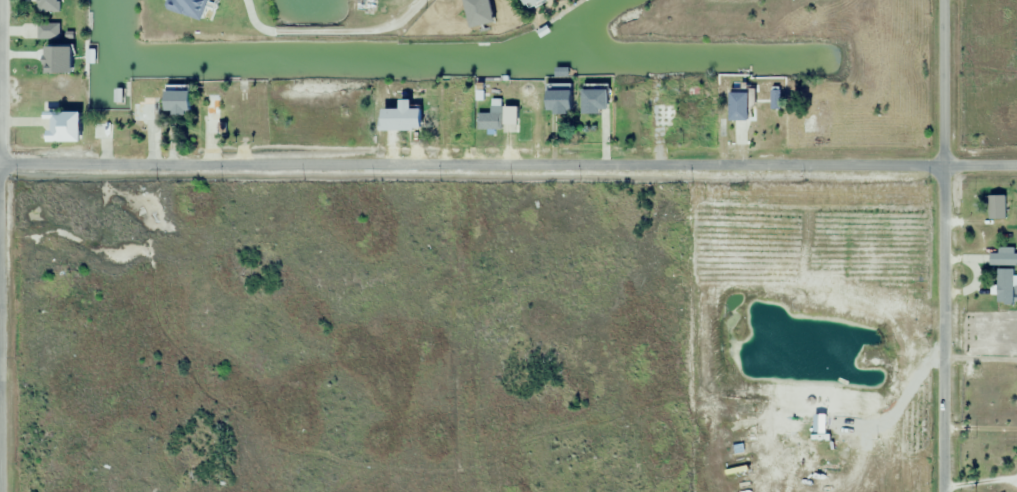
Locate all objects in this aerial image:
building: (529, 3)
building: (362, 5)
building: (47, 6)
building: (188, 7)
building: (477, 12)
building: (48, 31)
building: (557, 99)
building: (174, 101)
building: (593, 102)
building: (737, 107)
building: (140, 109)
building: (454, 113)
building: (211, 114)
building: (405, 116)
building: (494, 117)
building: (660, 117)
building: (61, 127)
building: (102, 131)
building: (738, 132)
road: (508, 164)
building: (996, 207)
road: (939, 245)
building: (1006, 256)
building: (1005, 286)

